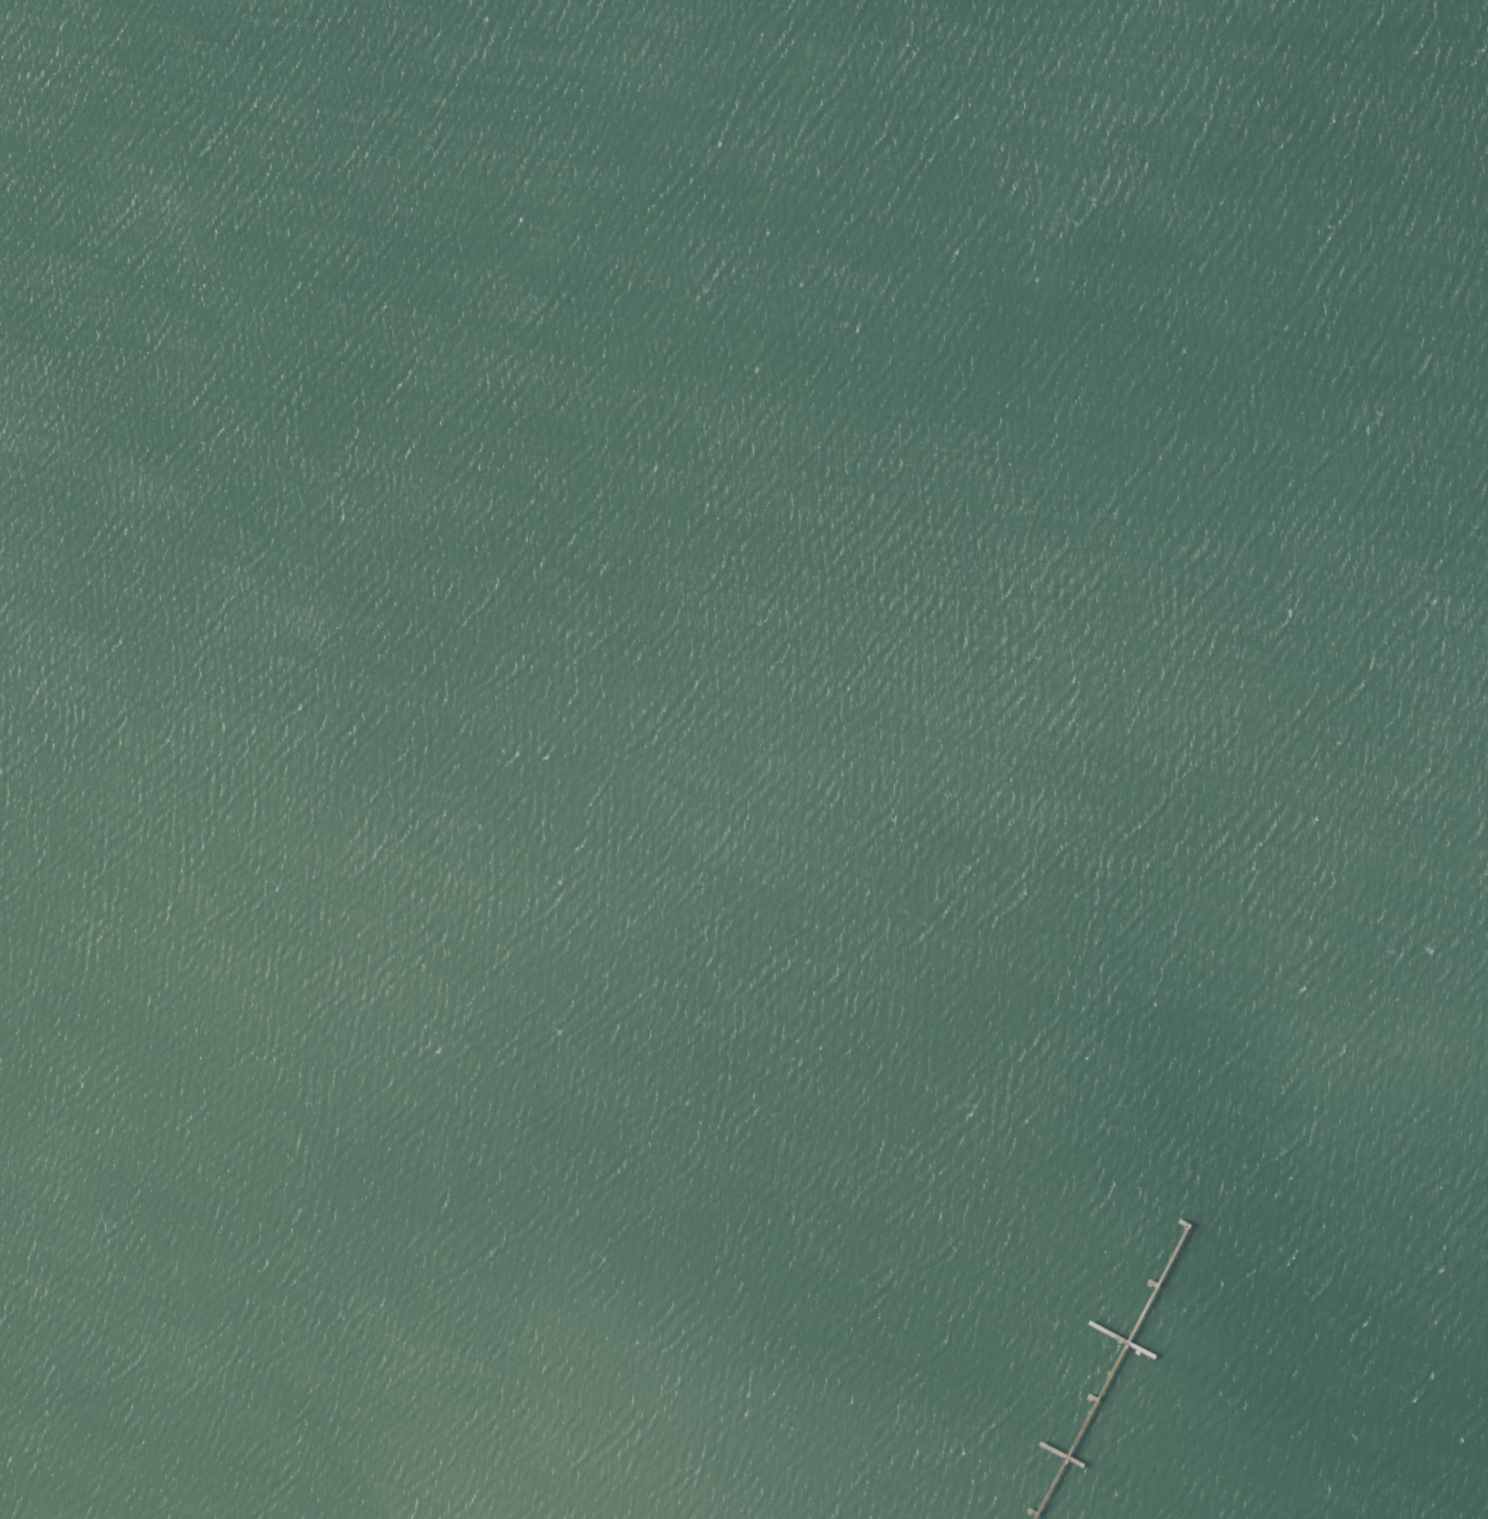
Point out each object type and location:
pier: (1108, 1371)

